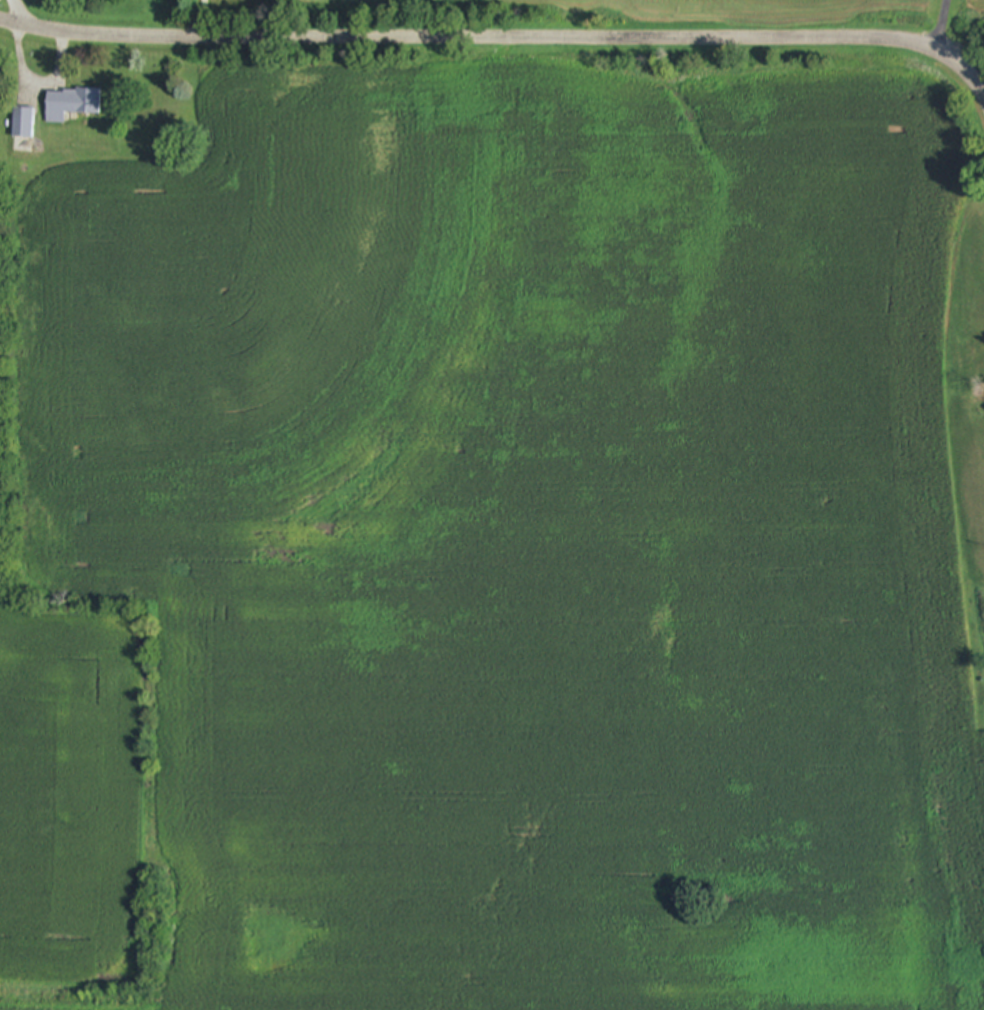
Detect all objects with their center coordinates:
road: (11, 14)
road: (201, 19)
road: (937, 28)
road: (498, 39)
road: (36, 81)
building: (73, 106)
building: (22, 123)

